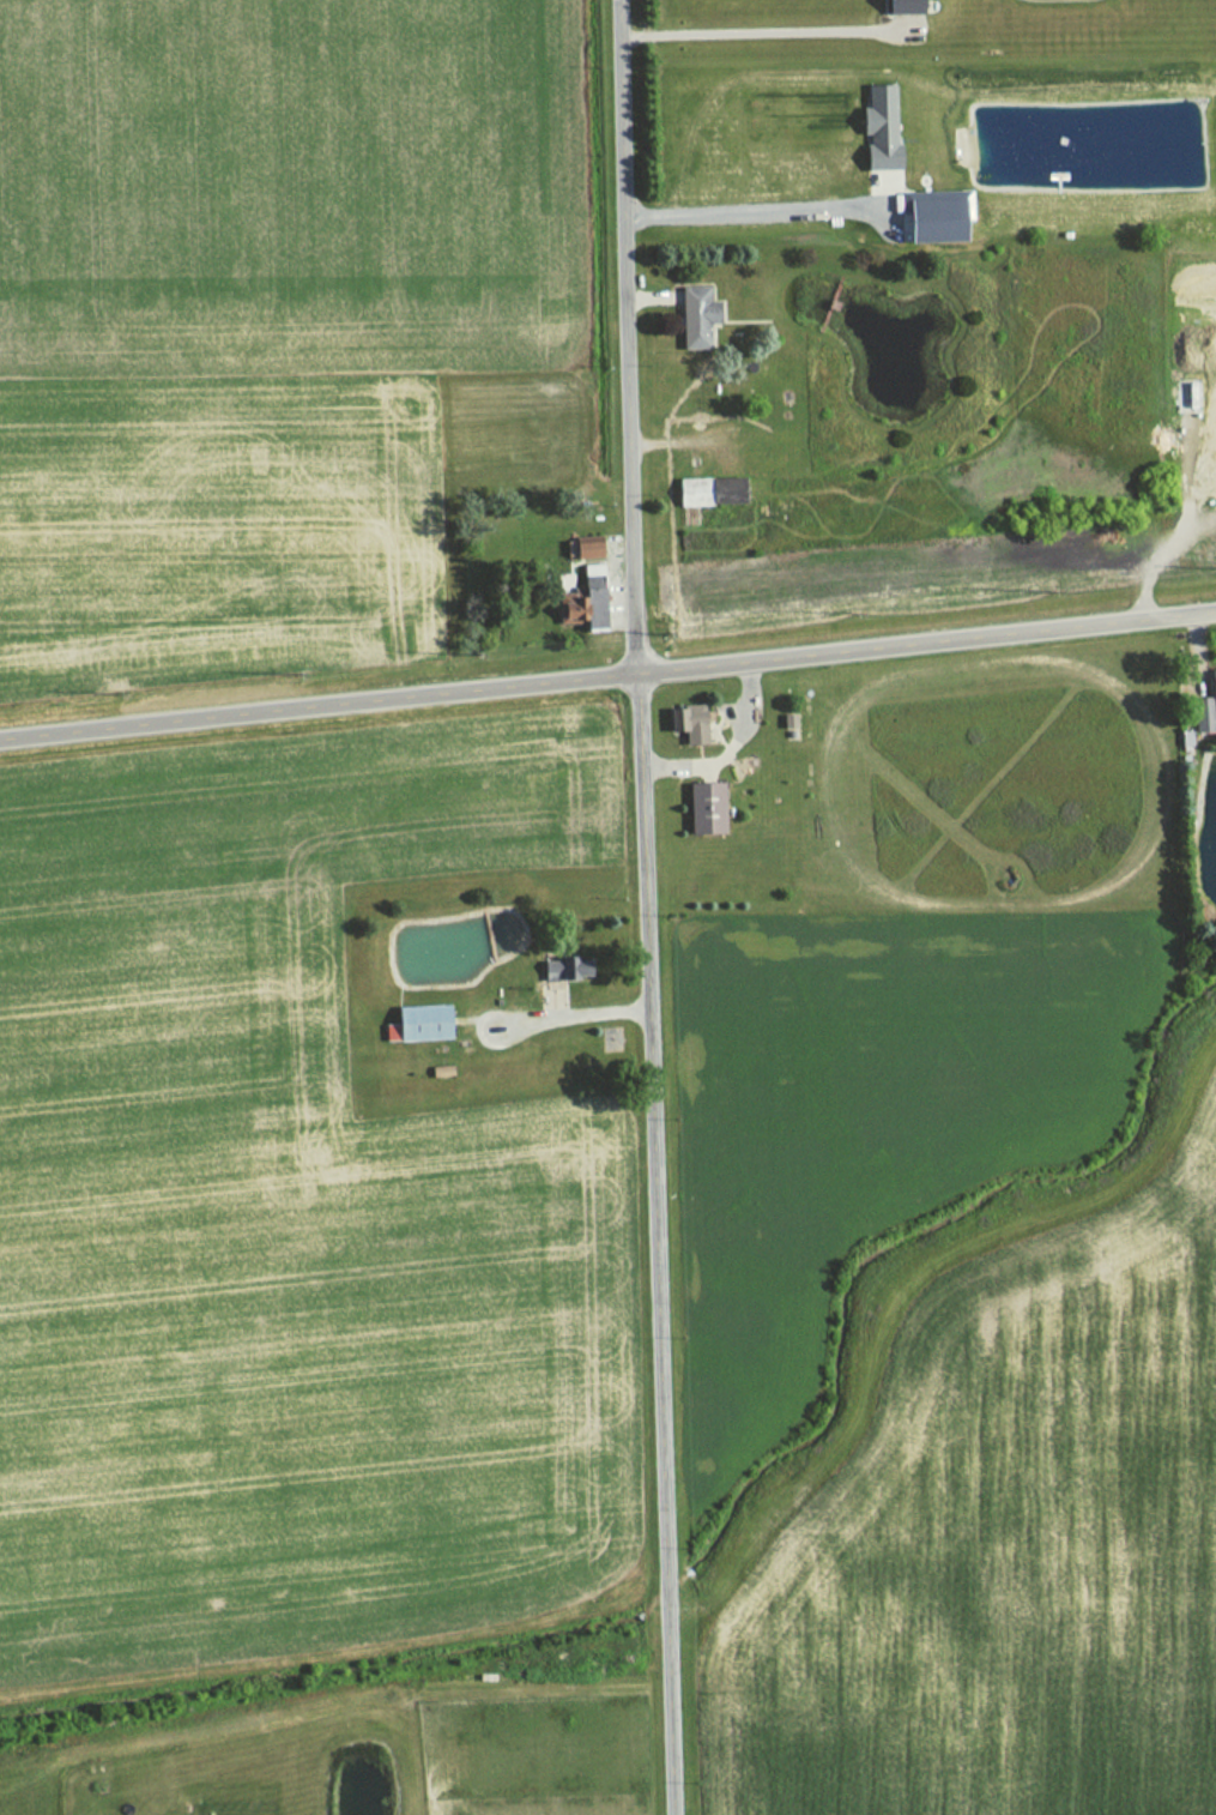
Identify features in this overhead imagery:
building: (897, 6)
road: (766, 34)
building: (873, 129)
road: (748, 212)
building: (928, 216)
crop: (276, 331)
road: (627, 337)
road: (1170, 545)
road: (607, 677)
road: (568, 1013)
crop: (283, 1204)
road: (659, 1244)
crop: (1002, 1534)

